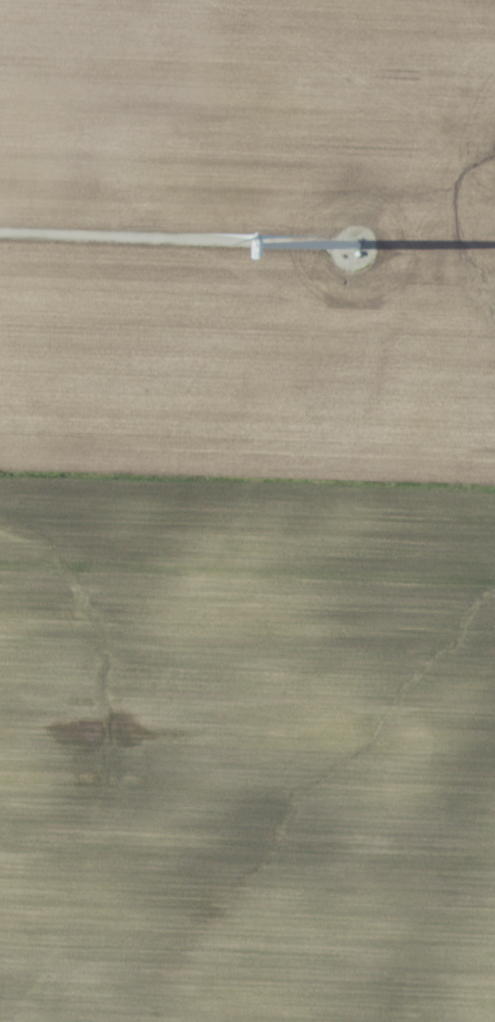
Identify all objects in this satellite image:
road: (168, 244)
wind turbine: (355, 246)

